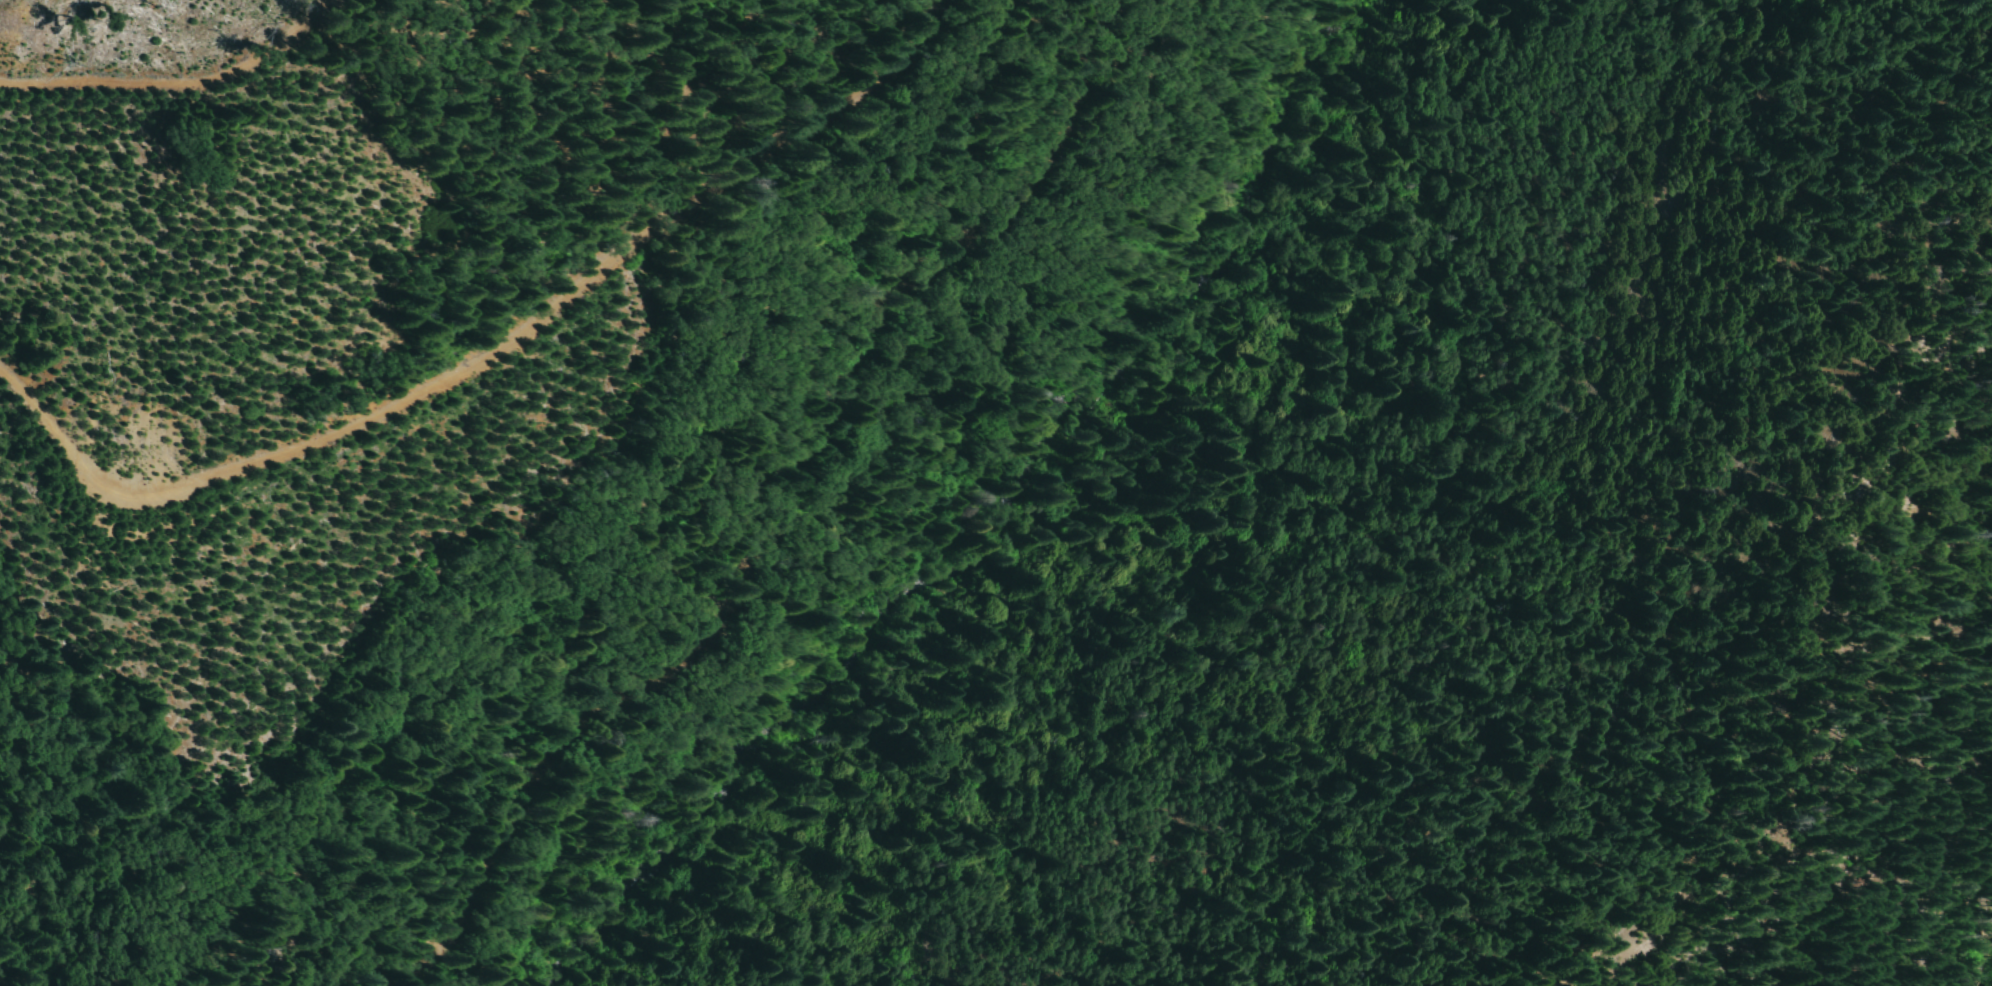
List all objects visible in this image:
road: (747, 504)

